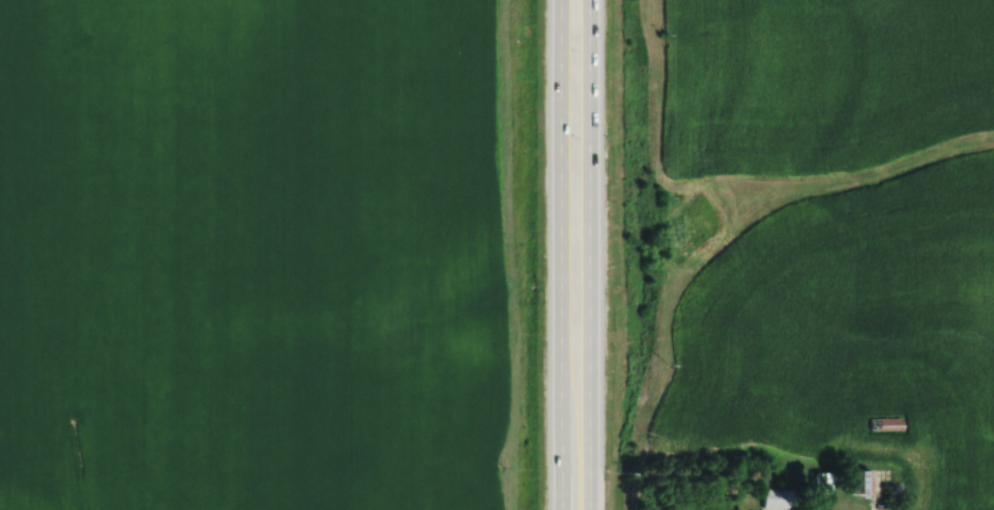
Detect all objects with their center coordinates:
road: (558, 255)
road: (586, 255)
building: (885, 423)
building: (820, 482)
building: (860, 482)
building: (776, 498)
road: (817, 509)

